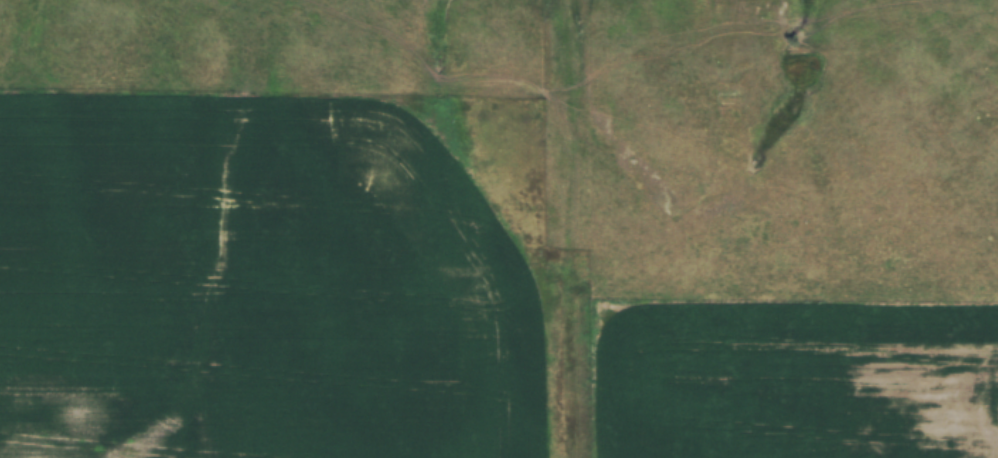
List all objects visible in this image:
road: (580, 229)

